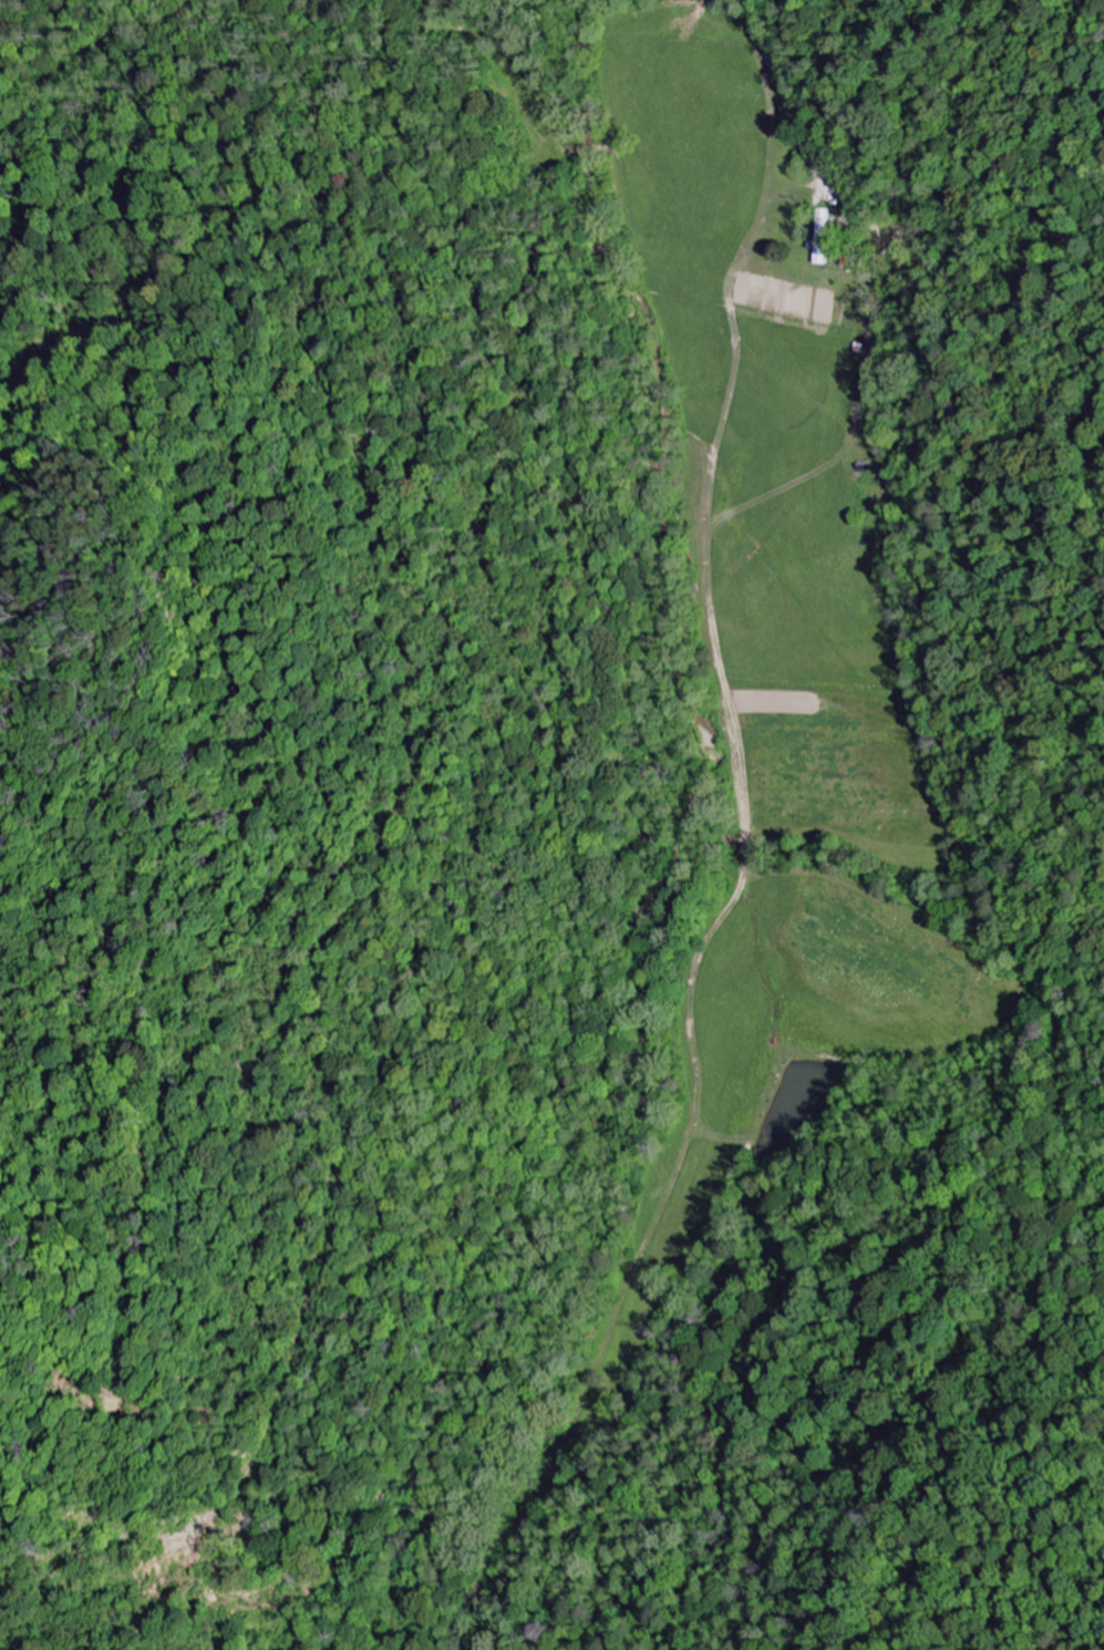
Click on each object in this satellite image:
road: (782, 97)

